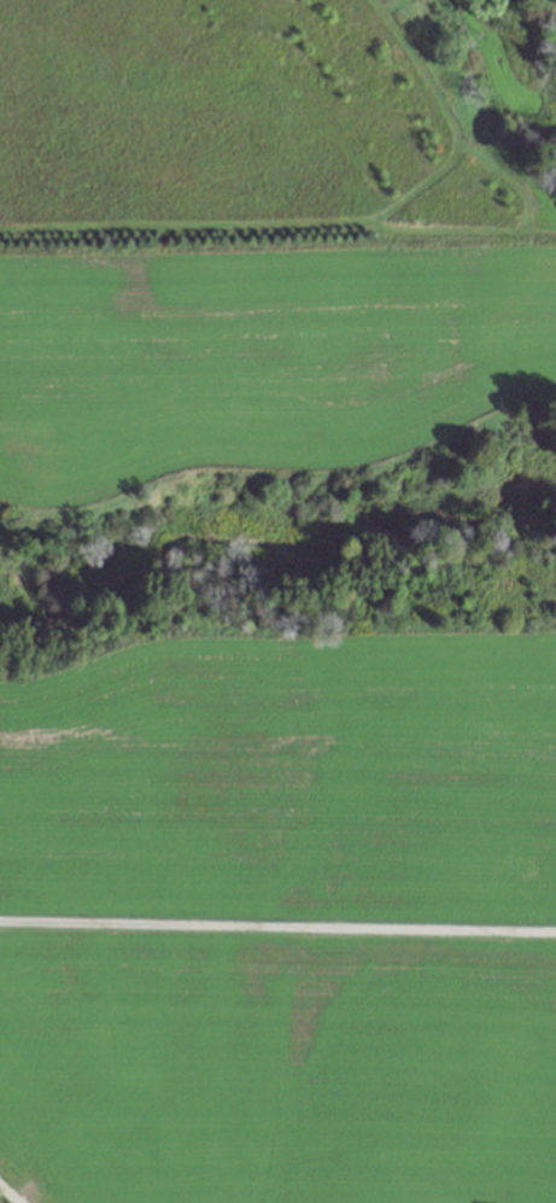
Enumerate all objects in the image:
road: (277, 913)
road: (0, 1202)

